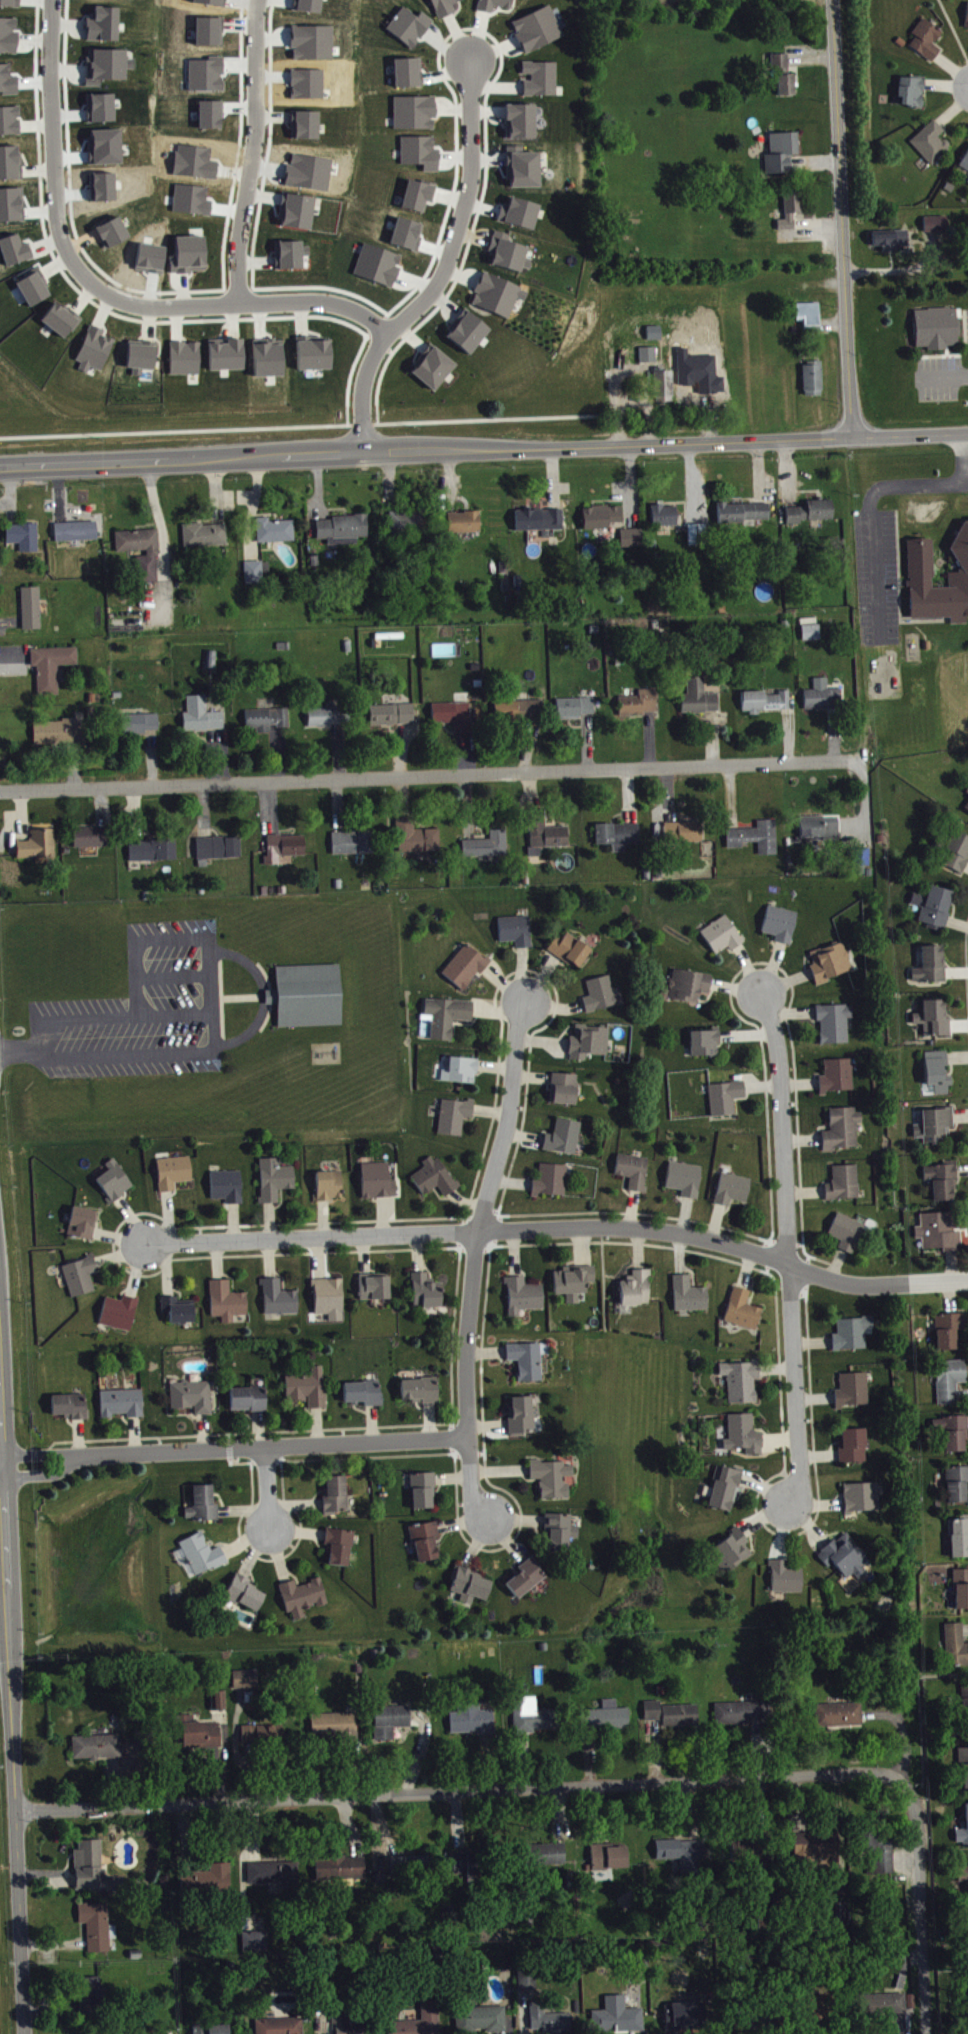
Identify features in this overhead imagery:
building: (11, 4)
building: (496, 6)
building: (446, 8)
building: (967, 25)
building: (105, 26)
building: (411, 28)
building: (539, 31)
building: (9, 37)
building: (928, 41)
road: (813, 53)
building: (108, 67)
building: (781, 71)
building: (410, 75)
building: (542, 80)
building: (913, 94)
building: (416, 114)
building: (522, 123)
building: (933, 144)
building: (779, 149)
road: (256, 151)
building: (422, 154)
road: (814, 159)
building: (11, 164)
building: (965, 165)
building: (525, 170)
building: (420, 198)
building: (789, 207)
building: (299, 213)
building: (521, 215)
road: (841, 218)
building: (934, 221)
road: (811, 232)
building: (114, 234)
building: (889, 237)
building: (16, 252)
building: (510, 255)
building: (191, 257)
building: (292, 257)
building: (380, 267)
road: (442, 269)
road: (899, 270)
road: (97, 285)
building: (35, 289)
building: (500, 297)
building: (807, 311)
road: (961, 314)
parking lot: (967, 318)
building: (62, 322)
building: (935, 325)
road: (964, 325)
building: (469, 334)
road: (947, 347)
building: (96, 352)
road: (939, 354)
building: (316, 355)
building: (228, 357)
building: (650, 357)
building: (142, 359)
building: (187, 360)
building: (270, 361)
building: (434, 369)
building: (810, 375)
parking lot: (939, 376)
road: (945, 376)
road: (288, 425)
road: (484, 449)
road: (963, 457)
road: (907, 483)
building: (812, 514)
building: (745, 515)
building: (603, 518)
building: (666, 518)
building: (408, 522)
building: (538, 522)
building: (466, 524)
building: (277, 532)
building: (345, 532)
building: (78, 533)
building: (207, 537)
building: (25, 538)
building: (633, 540)
building: (143, 554)
building: (917, 572)
building: (255, 574)
parking lot: (875, 575)
road: (872, 576)
building: (33, 610)
building: (812, 631)
building: (53, 669)
building: (824, 698)
building: (701, 700)
building: (767, 703)
building: (641, 705)
building: (577, 710)
building: (394, 716)
building: (455, 717)
building: (203, 718)
building: (327, 719)
building: (268, 721)
building: (142, 725)
building: (58, 734)
road: (432, 777)
building: (967, 793)
road: (865, 798)
building: (967, 810)
building: (821, 830)
building: (685, 833)
building: (547, 835)
building: (620, 837)
building: (92, 839)
building: (417, 839)
building: (757, 839)
building: (353, 845)
building: (40, 847)
building: (489, 847)
building: (286, 849)
building: (220, 850)
building: (154, 852)
building: (957, 854)
building: (936, 909)
building: (782, 926)
building: (517, 933)
road: (133, 937)
building: (723, 937)
building: (572, 952)
building: (831, 964)
building: (932, 967)
road: (220, 977)
building: (691, 987)
building: (304, 993)
road: (136, 996)
road: (221, 996)
road: (261, 996)
building: (603, 997)
parking lot: (141, 1010)
road: (110, 1016)
building: (449, 1018)
building: (935, 1021)
building: (836, 1025)
building: (591, 1044)
building: (707, 1045)
road: (138, 1054)
building: (463, 1073)
building: (939, 1075)
building: (839, 1078)
building: (565, 1091)
building: (727, 1100)
building: (456, 1118)
building: (937, 1127)
building: (844, 1131)
building: (565, 1139)
building: (635, 1173)
building: (175, 1174)
building: (436, 1179)
building: (686, 1181)
building: (276, 1182)
building: (116, 1183)
building: (379, 1183)
building: (552, 1183)
building: (943, 1183)
building: (845, 1185)
building: (331, 1188)
building: (229, 1189)
building: (734, 1191)
building: (85, 1225)
road: (562, 1229)
building: (849, 1234)
building: (940, 1234)
road: (791, 1250)
road: (476, 1261)
building: (82, 1278)
building: (575, 1284)
building: (376, 1289)
building: (427, 1294)
building: (691, 1297)
building: (526, 1298)
building: (280, 1301)
building: (331, 1301)
building: (228, 1303)
building: (744, 1312)
building: (180, 1313)
building: (121, 1315)
building: (950, 1332)
building: (853, 1335)
building: (528, 1363)
building: (743, 1383)
building: (951, 1383)
building: (310, 1390)
building: (421, 1392)
building: (854, 1392)
building: (366, 1395)
building: (194, 1398)
building: (250, 1401)
building: (123, 1405)
building: (71, 1408)
building: (524, 1418)
building: (956, 1435)
building: (745, 1437)
building: (854, 1448)
road: (236, 1449)
building: (554, 1480)
building: (958, 1486)
road: (272, 1487)
building: (726, 1491)
building: (424, 1493)
building: (337, 1498)
building: (863, 1500)
building: (204, 1507)
building: (560, 1534)
building: (960, 1539)
building: (427, 1543)
building: (341, 1550)
building: (732, 1554)
building: (202, 1557)
building: (847, 1559)
building: (528, 1580)
building: (787, 1580)
building: (471, 1588)
building: (962, 1591)
building: (246, 1595)
building: (304, 1599)
building: (957, 1647)
building: (247, 1681)
building: (221, 1703)
building: (966, 1705)
building: (654, 1713)
building: (743, 1715)
building: (840, 1717)
building: (682, 1718)
building: (534, 1719)
building: (608, 1719)
building: (392, 1724)
building: (337, 1727)
building: (199, 1735)
road: (13, 1749)
building: (98, 1749)
building: (964, 1773)
road: (463, 1791)
building: (963, 1834)
building: (817, 1847)
building: (685, 1855)
building: (548, 1857)
building: (881, 1858)
building: (610, 1860)
building: (410, 1865)
building: (463, 1865)
building: (346, 1869)
building: (95, 1871)
building: (275, 1875)
building: (964, 1881)
building: (210, 1882)
building: (841, 1904)
road: (921, 1907)
building: (99, 1929)
building: (967, 1939)
building: (257, 1944)
building: (529, 1982)
building: (92, 1998)
building: (887, 2005)
building: (432, 2013)
building: (683, 2018)
building: (619, 2019)
building: (484, 2021)
building: (350, 2022)
building: (551, 2022)
building: (281, 2027)
building: (213, 2030)

